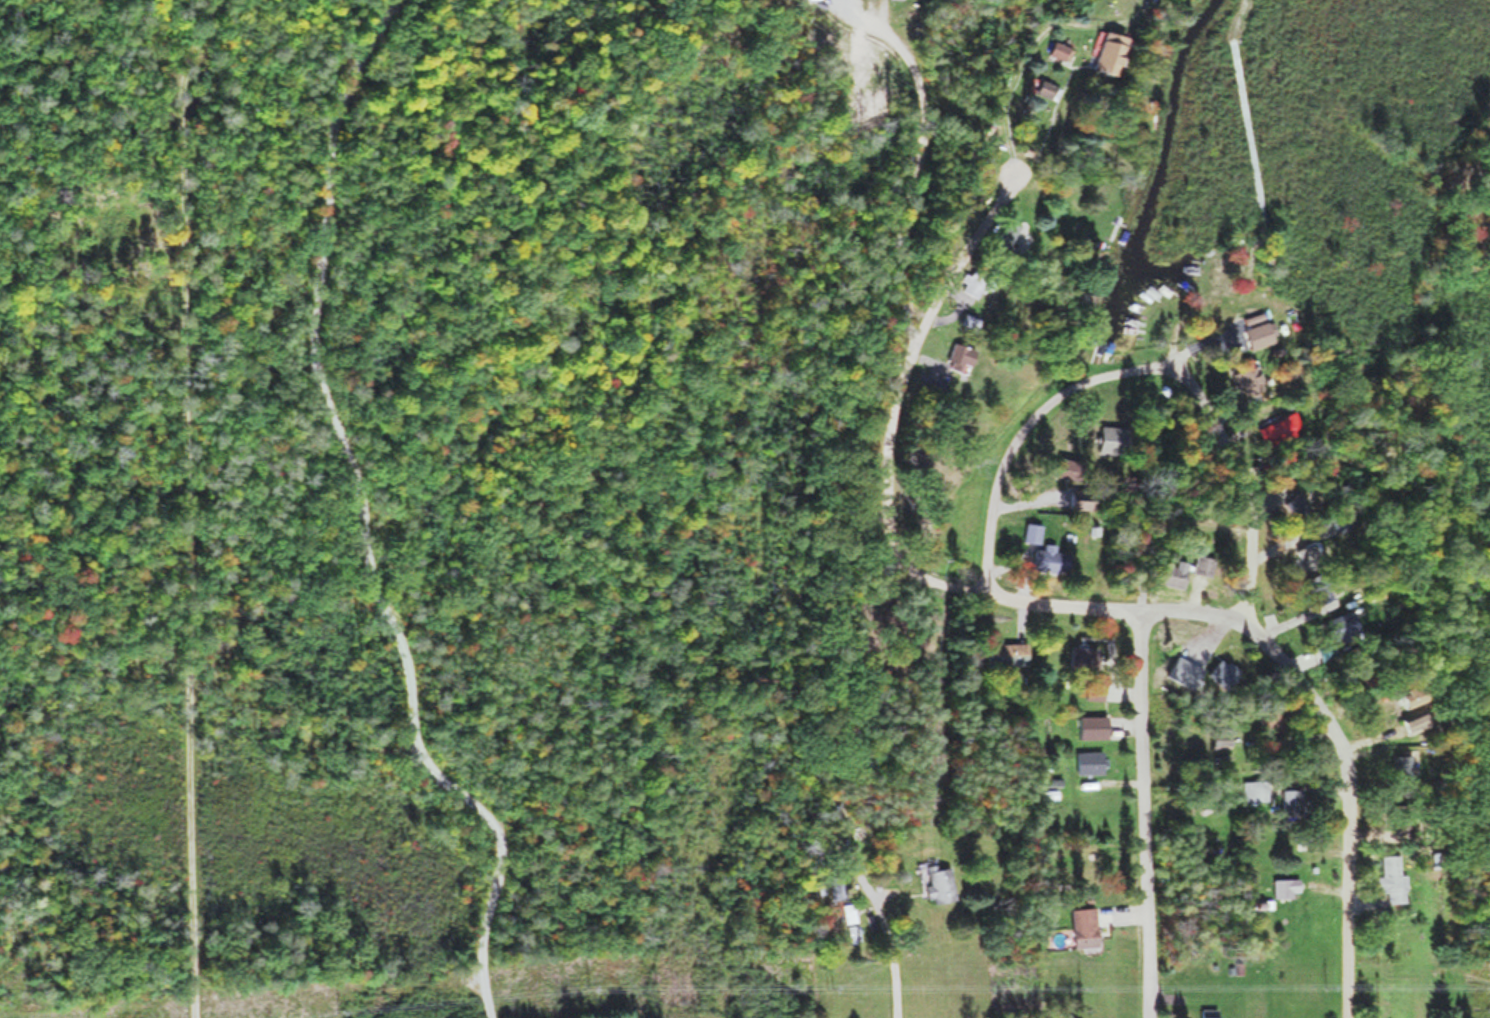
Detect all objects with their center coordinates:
building: (1100, 52)
building: (1039, 89)
building: (1030, 131)
road: (908, 179)
building: (1000, 234)
building: (970, 280)
building: (961, 320)
building: (950, 358)
road: (1143, 364)
building: (1240, 376)
building: (1270, 433)
building: (1293, 501)
road: (180, 507)
road: (434, 513)
building: (1304, 555)
building: (1045, 559)
building: (1166, 575)
road: (1069, 593)
building: (1335, 624)
building: (1001, 653)
building: (1077, 656)
building: (1218, 673)
building: (1089, 691)
building: (1410, 723)
building: (1088, 727)
building: (1215, 740)
building: (1084, 762)
building: (1401, 767)
building: (1253, 790)
building: (1293, 801)
road: (1147, 810)
building: (1392, 877)
building: (935, 881)
building: (836, 884)
building: (1085, 923)
building: (850, 933)
building: (1205, 1012)

